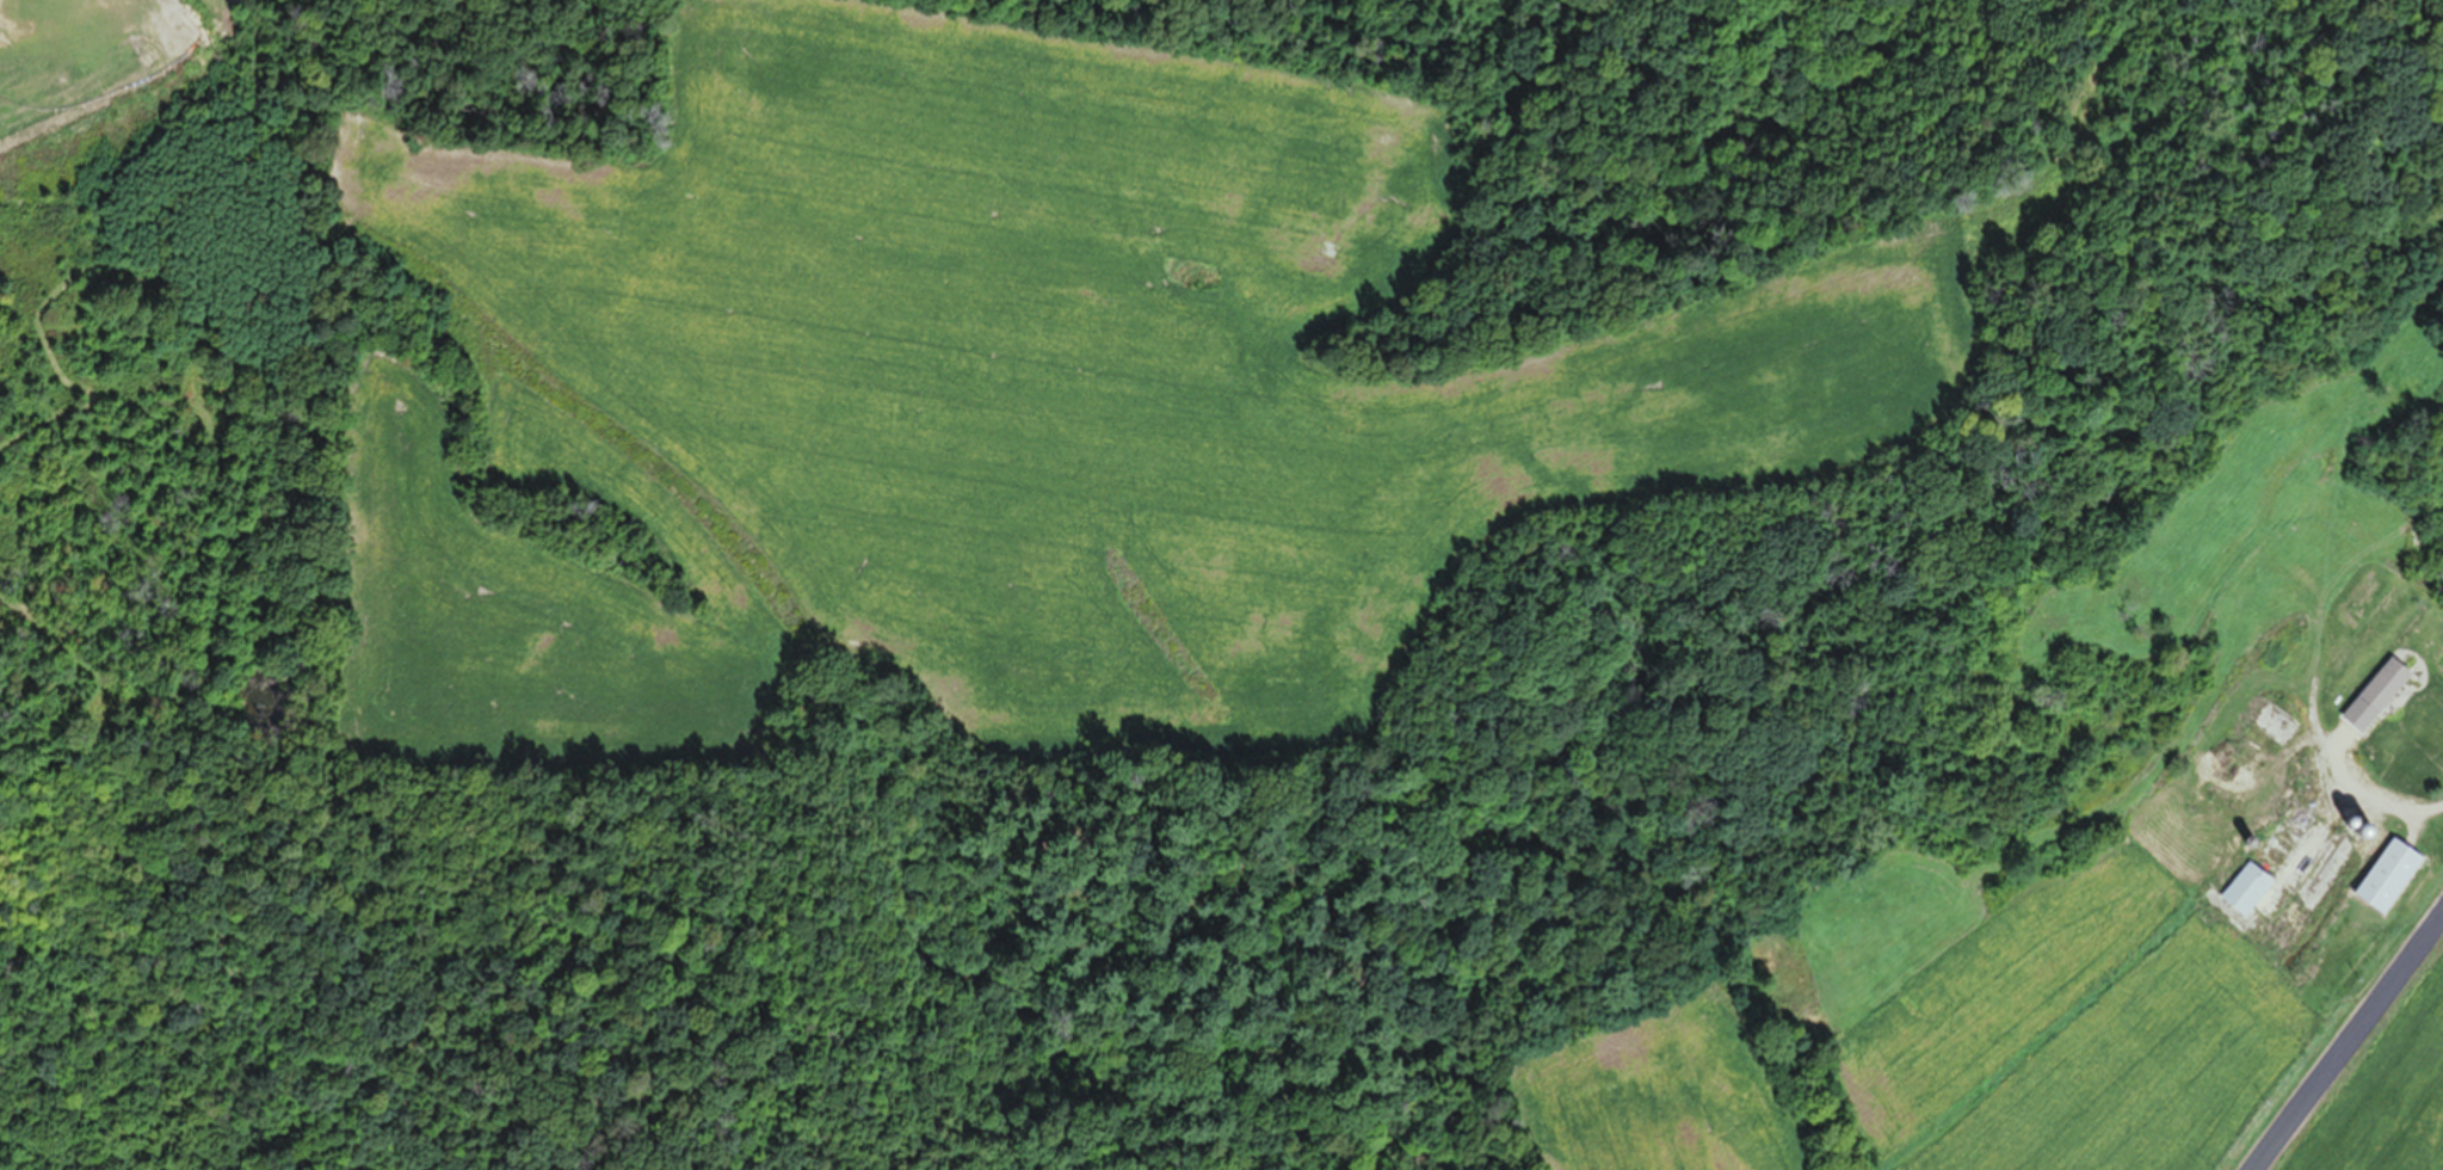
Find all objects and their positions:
building: (2266, 722)
building: (2432, 728)
building: (2379, 766)
building: (2239, 777)
road: (2364, 792)
building: (2263, 869)
building: (2386, 880)
road: (2350, 1040)

